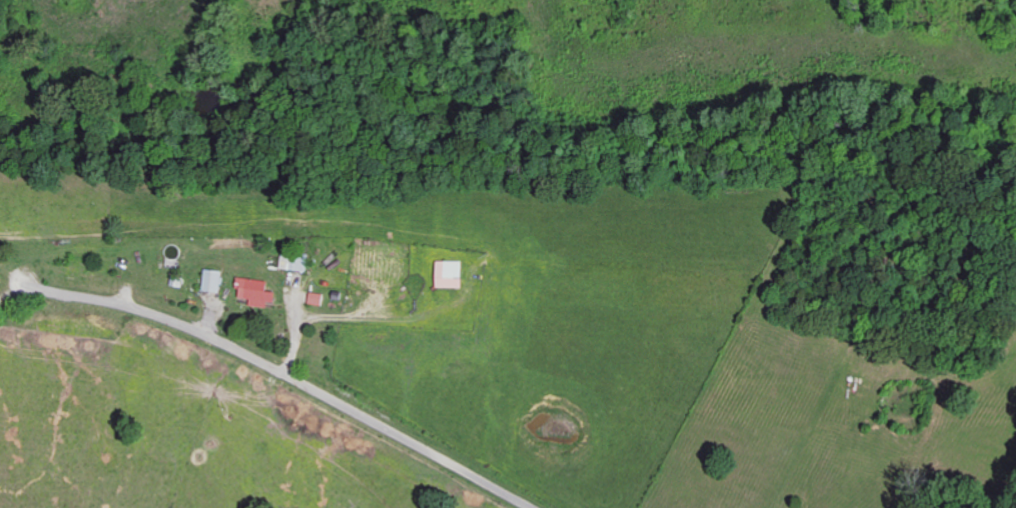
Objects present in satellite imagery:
building: (295, 261)
building: (450, 274)
building: (213, 280)
building: (256, 291)
building: (316, 298)
road: (292, 377)

